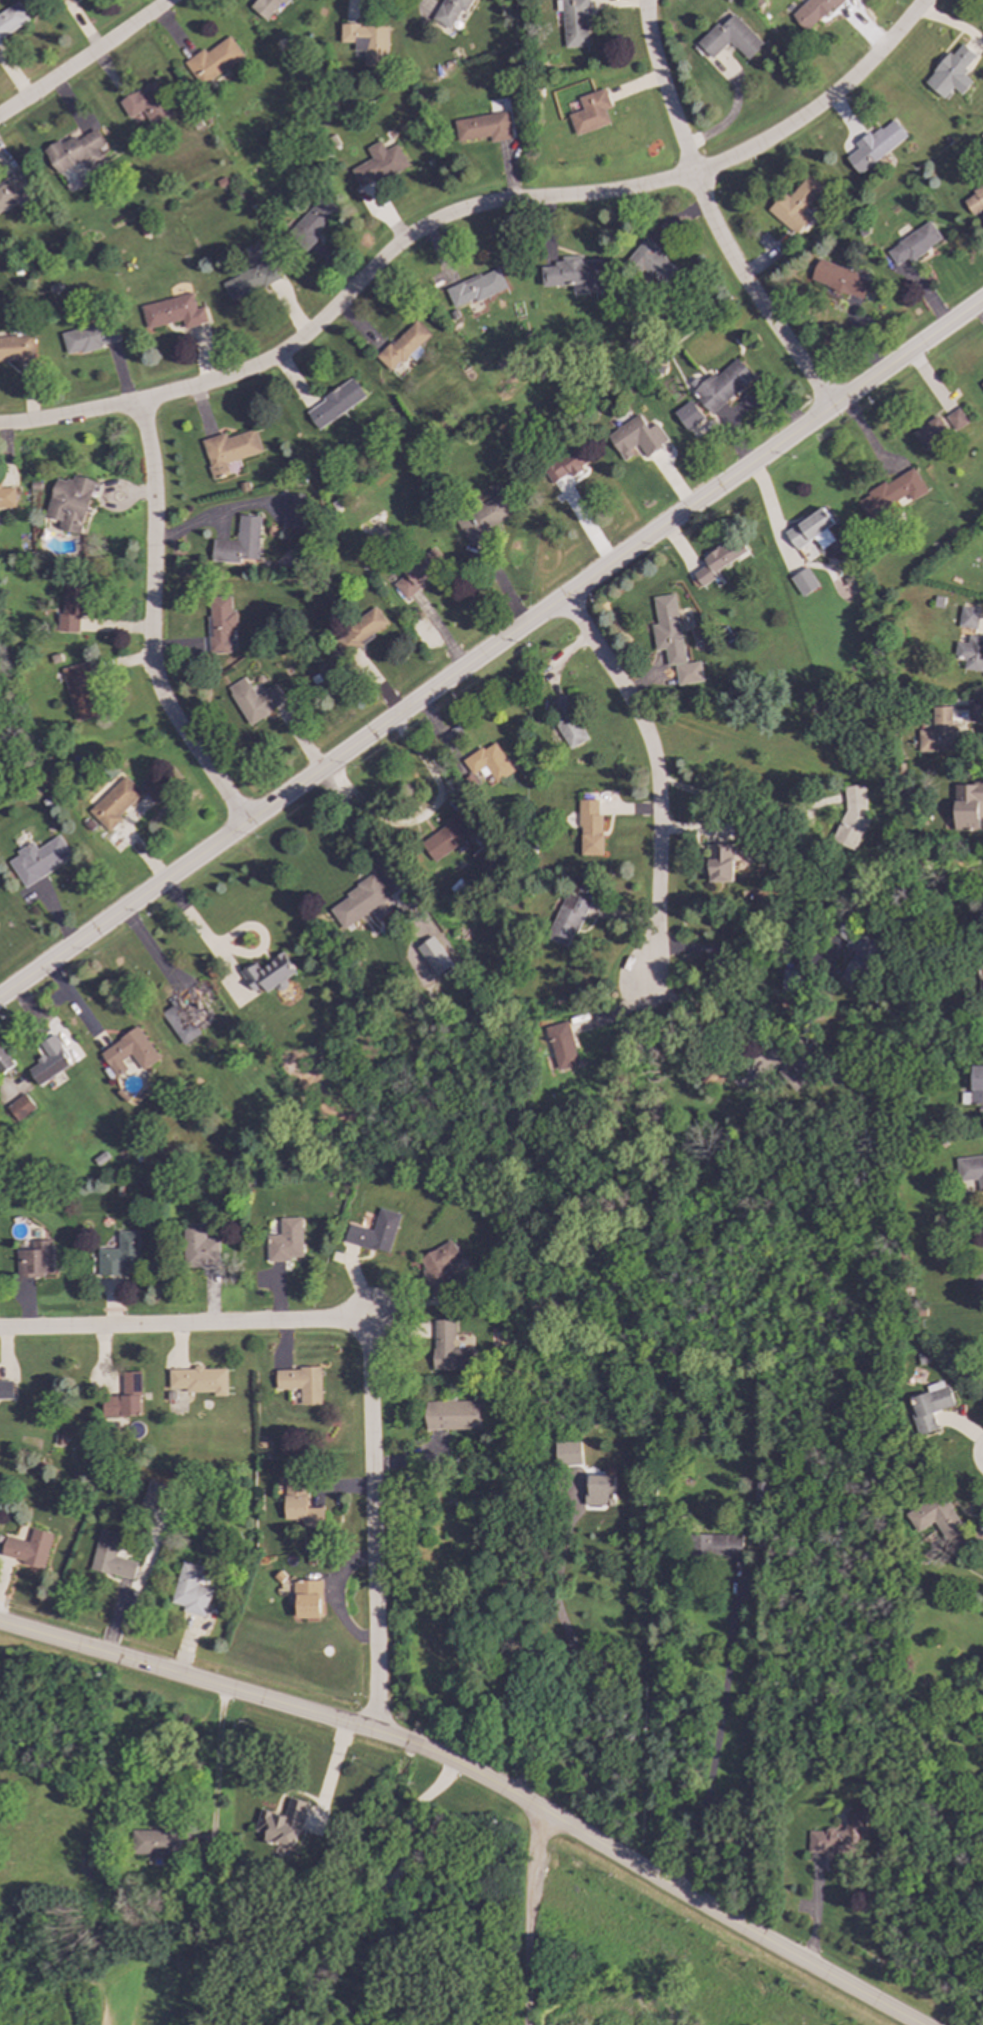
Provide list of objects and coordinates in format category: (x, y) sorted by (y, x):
building: (63, 0)
building: (266, 8)
building: (451, 11)
building: (812, 12)
building: (11, 20)
building: (573, 21)
building: (729, 39)
building: (367, 42)
road: (85, 59)
building: (212, 60)
building: (951, 72)
building: (147, 104)
building: (590, 112)
building: (483, 127)
building: (875, 145)
building: (75, 152)
building: (378, 164)
building: (15, 192)
building: (974, 201)
building: (795, 204)
road: (463, 210)
road: (708, 216)
building: (312, 223)
building: (912, 244)
building: (652, 263)
building: (573, 274)
building: (250, 279)
building: (838, 279)
building: (475, 288)
building: (173, 312)
building: (90, 337)
building: (403, 346)
building: (16, 348)
building: (982, 383)
building: (721, 386)
building: (334, 404)
building: (688, 415)
building: (956, 420)
building: (929, 433)
building: (636, 437)
building: (228, 450)
building: (565, 465)
building: (891, 493)
building: (6, 496)
building: (69, 503)
building: (293, 511)
building: (483, 522)
building: (811, 530)
building: (239, 542)
building: (719, 561)
building: (418, 573)
building: (804, 582)
building: (71, 608)
building: (968, 618)
building: (220, 624)
road: (151, 626)
building: (360, 632)
building: (672, 640)
road: (491, 648)
building: (970, 653)
building: (80, 692)
building: (254, 699)
road: (977, 719)
building: (569, 729)
building: (939, 732)
building: (488, 762)
road: (655, 772)
building: (151, 791)
road: (734, 802)
building: (113, 803)
building: (968, 807)
road: (416, 815)
building: (852, 818)
building: (589, 828)
road: (357, 837)
building: (445, 839)
building: (38, 859)
building: (720, 863)
building: (358, 902)
building: (566, 920)
road: (741, 955)
building: (857, 955)
building: (434, 956)
building: (268, 974)
building: (791, 980)
building: (183, 1016)
building: (562, 1049)
building: (130, 1052)
building: (5, 1061)
building: (50, 1061)
building: (797, 1070)
building: (976, 1085)
building: (20, 1107)
building: (970, 1170)
building: (375, 1233)
building: (286, 1240)
building: (198, 1247)
building: (119, 1255)
building: (35, 1260)
building: (441, 1264)
building: (977, 1279)
road: (372, 1343)
building: (449, 1348)
building: (199, 1380)
building: (302, 1383)
building: (6, 1389)
building: (124, 1398)
building: (929, 1406)
building: (451, 1415)
building: (568, 1453)
building: (599, 1490)
building: (761, 1491)
building: (156, 1500)
building: (300, 1503)
building: (935, 1517)
building: (716, 1545)
building: (27, 1548)
building: (110, 1557)
building: (190, 1591)
building: (308, 1599)
road: (570, 1656)
road: (717, 1736)
road: (216, 1767)
road: (481, 1776)
road: (329, 1778)
building: (282, 1823)
building: (838, 1836)
building: (158, 1842)
road: (378, 1893)
road: (814, 1911)
road: (533, 1918)

